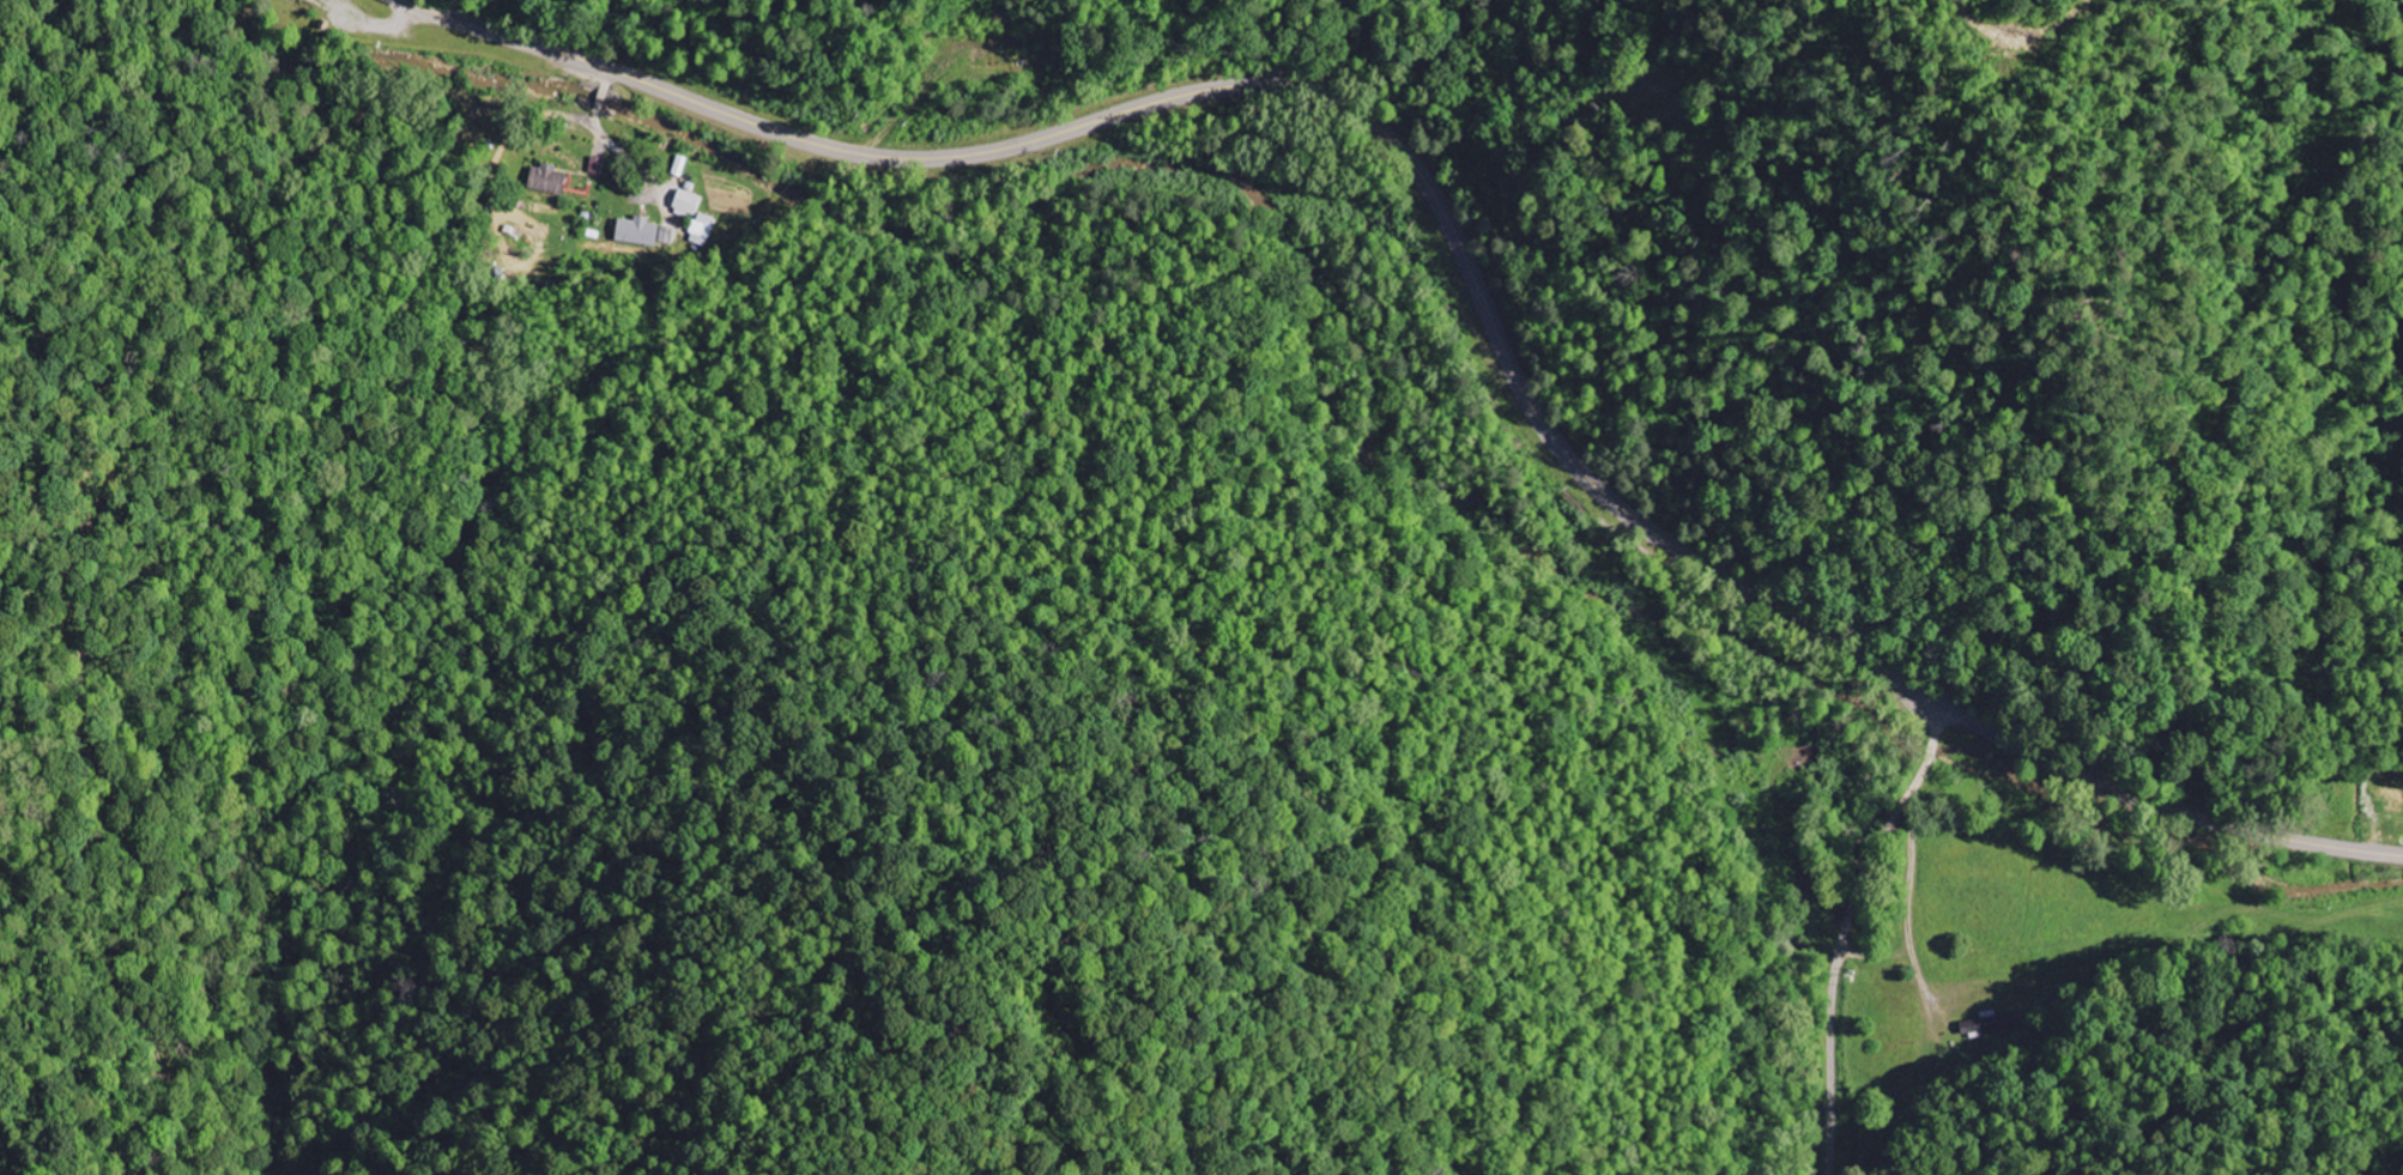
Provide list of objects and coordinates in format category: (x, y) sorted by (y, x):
road: (1300, 87)
building: (597, 166)
building: (550, 180)
building: (688, 205)
building: (701, 231)
building: (637, 232)
building: (666, 237)
road: (2172, 807)
road: (1850, 923)

